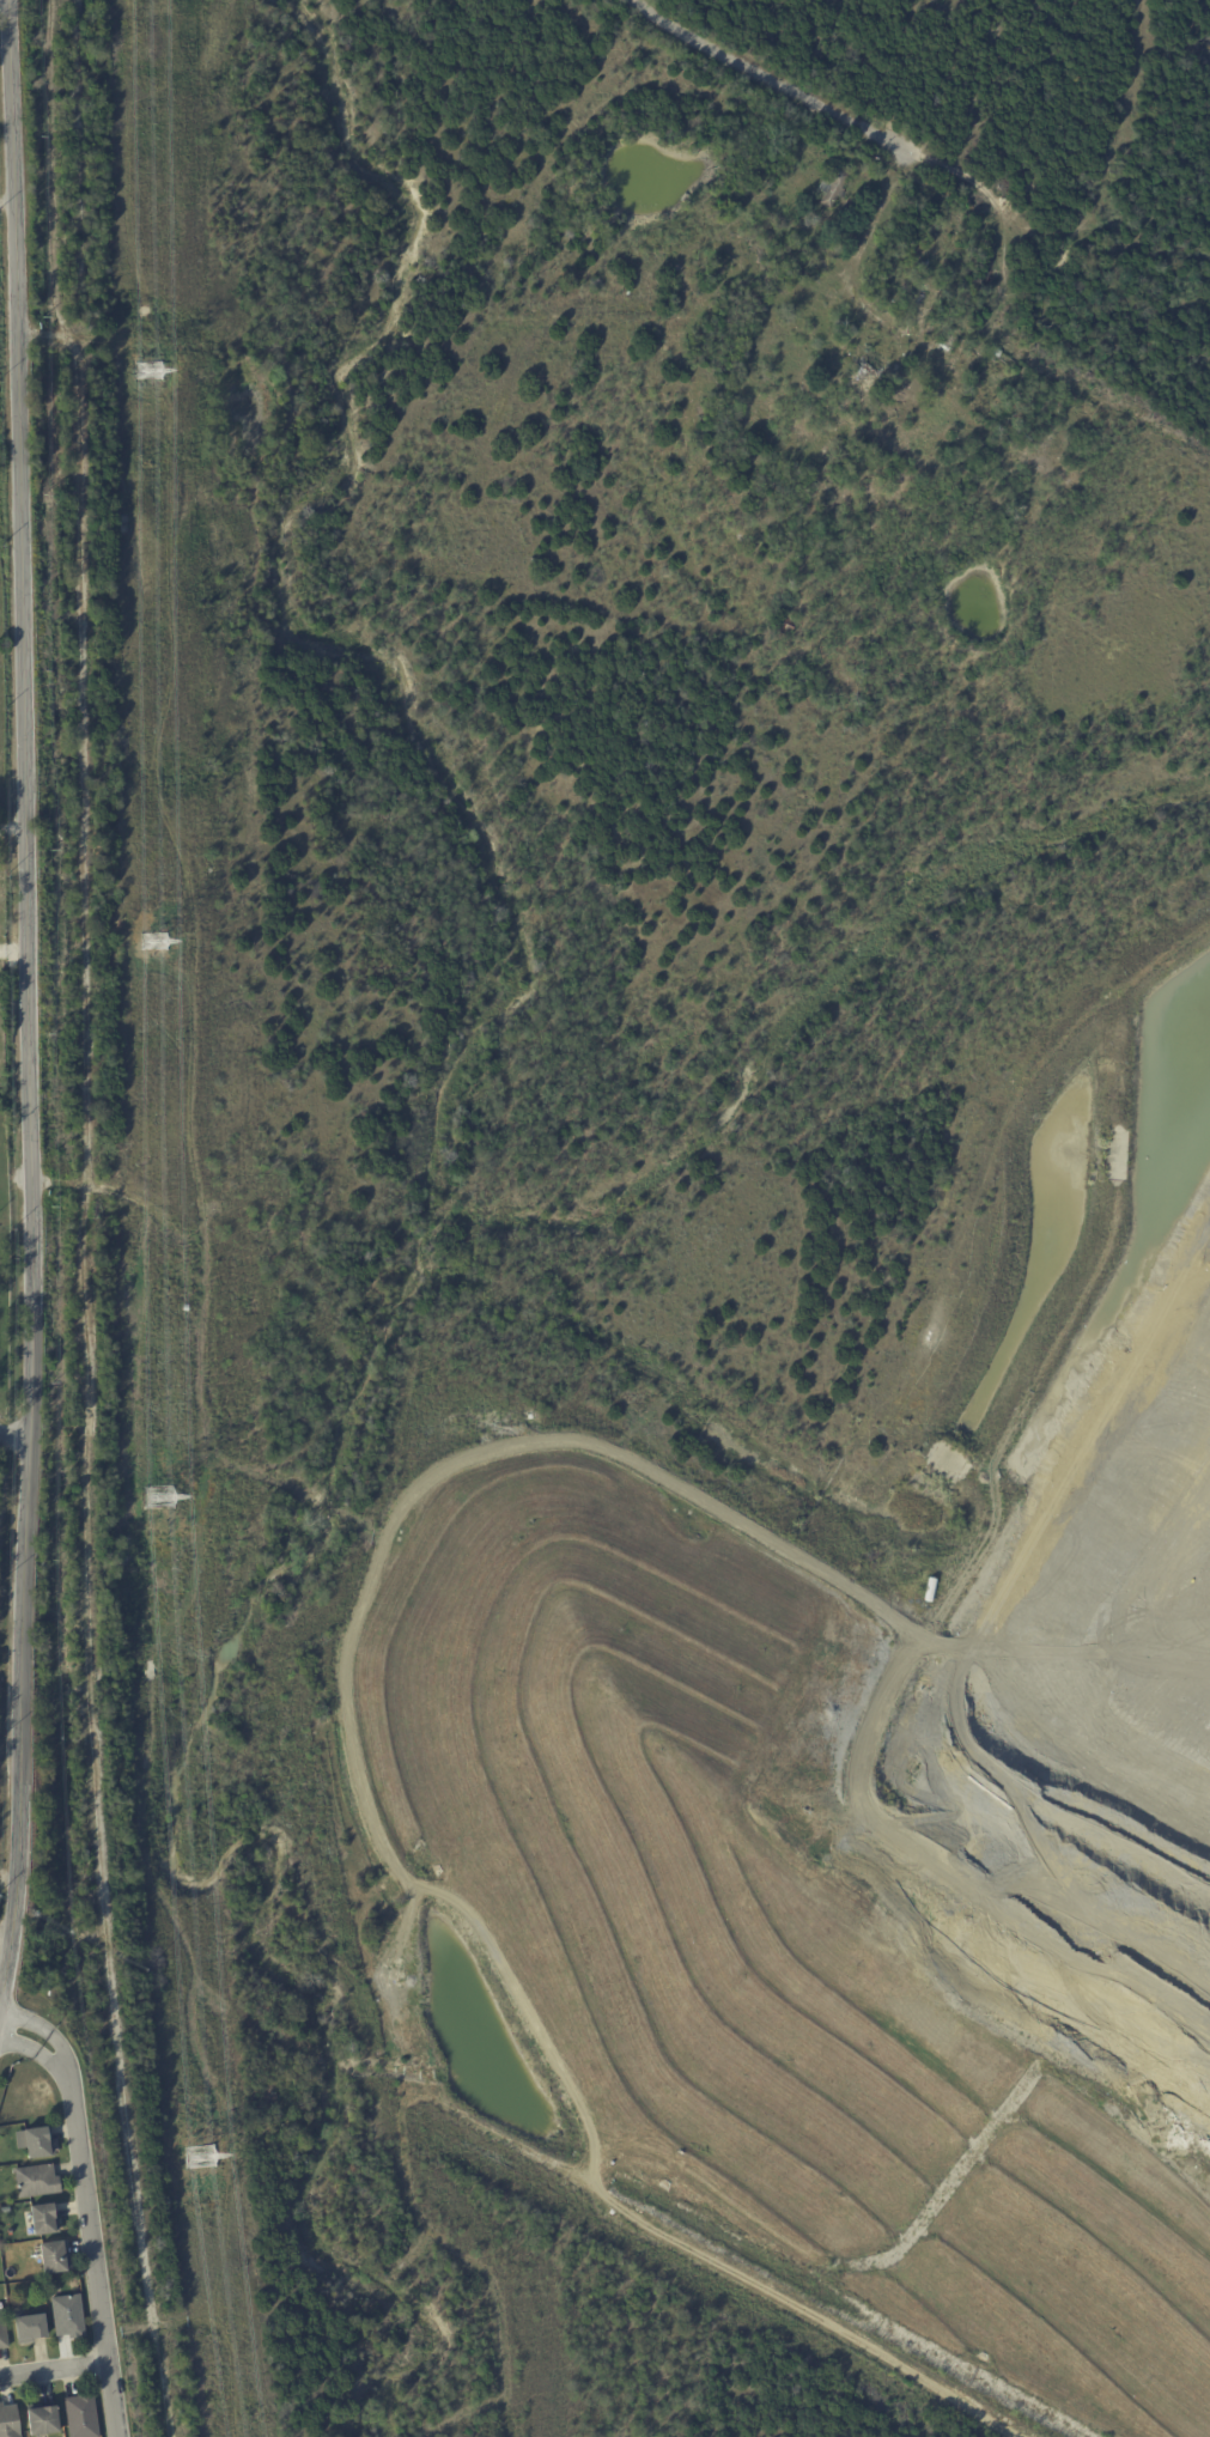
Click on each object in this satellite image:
road: (833, 105)
building: (833, 187)
road: (6, 202)
road: (71, 336)
building: (996, 353)
power tower: (153, 369)
building: (1026, 436)
building: (784, 625)
power tower: (158, 941)
road: (28, 997)
building: (186, 1306)
road: (13, 1439)
power tower: (164, 1496)
building: (930, 1588)
landfill: (894, 1771)
road: (5, 1934)
road: (24, 2020)
road: (17, 2046)
road: (66, 2066)
building: (35, 2141)
power tower: (207, 2156)
building: (36, 2181)
building: (43, 2217)
road: (92, 2253)
building: (54, 2256)
building: (37, 2284)
building: (825, 2314)
building: (67, 2315)
building: (29, 2328)
building: (2, 2330)
road: (54, 2371)
building: (81, 2414)
building: (42, 2419)
building: (8, 2421)

